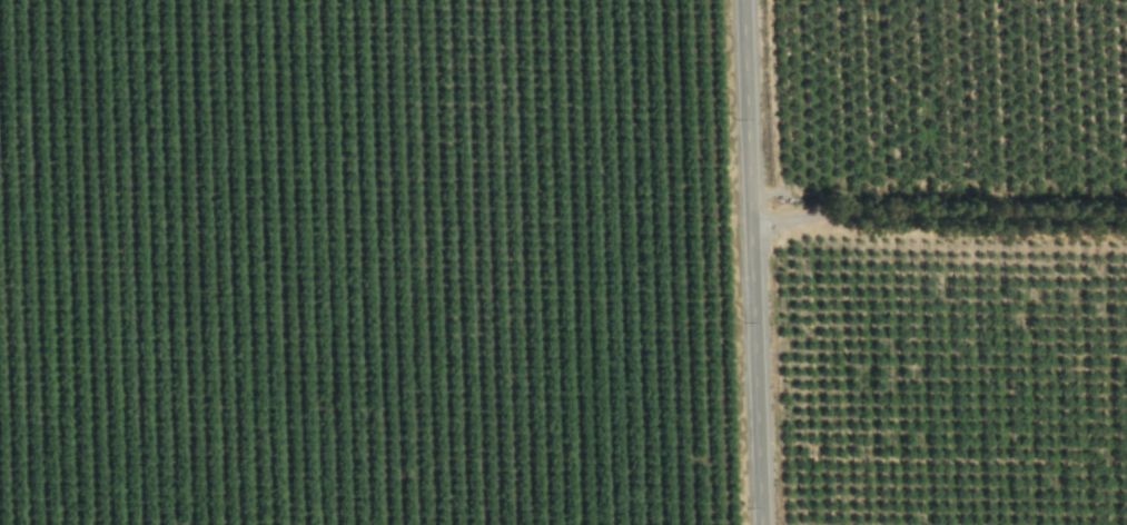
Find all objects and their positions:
road: (937, 215)
road: (749, 262)

